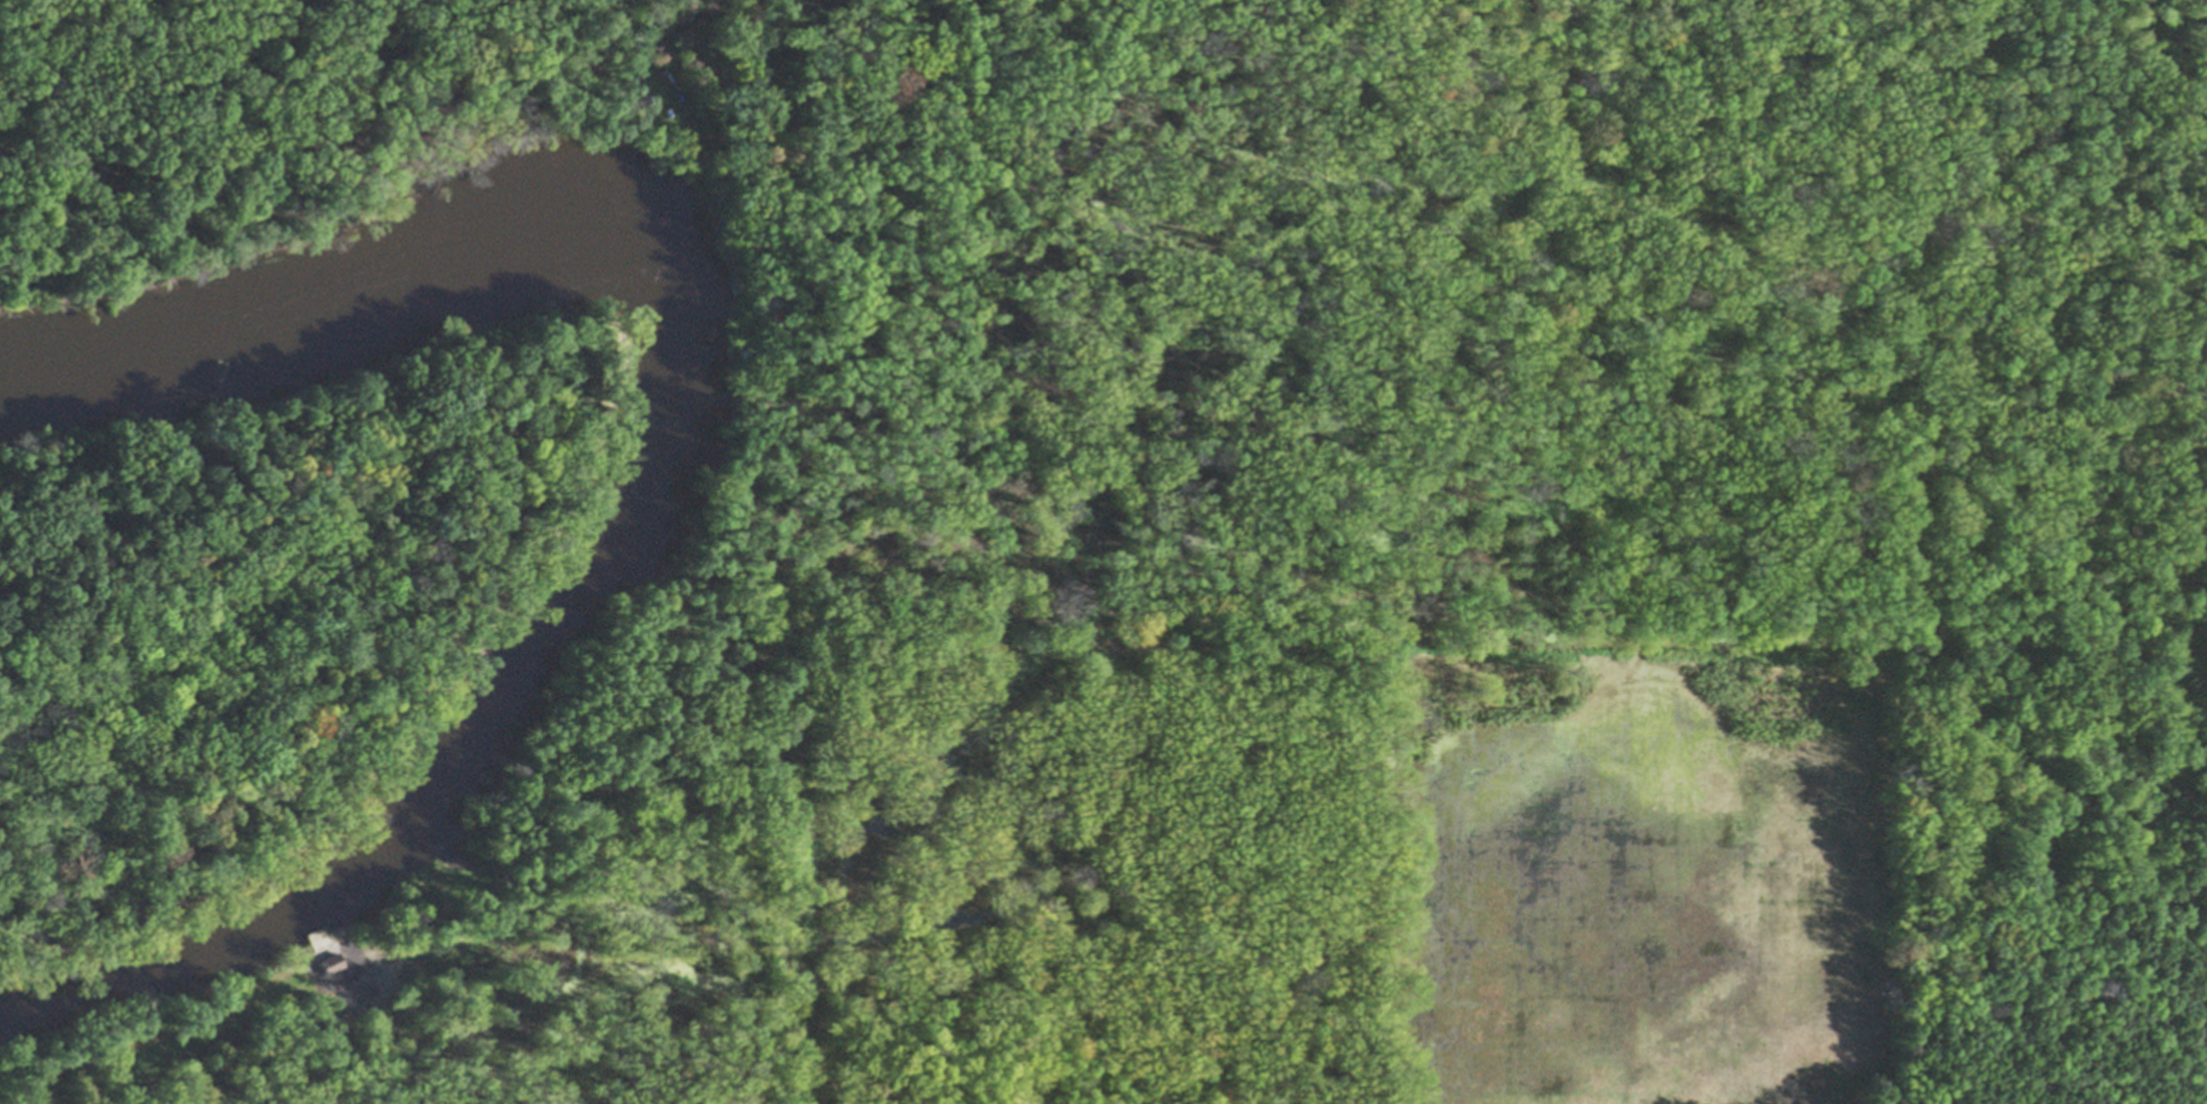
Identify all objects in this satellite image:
building: (645, 109)
building: (742, 362)
river: (664, 462)
road: (689, 757)
building: (315, 938)
building: (329, 968)
building: (418, 994)

